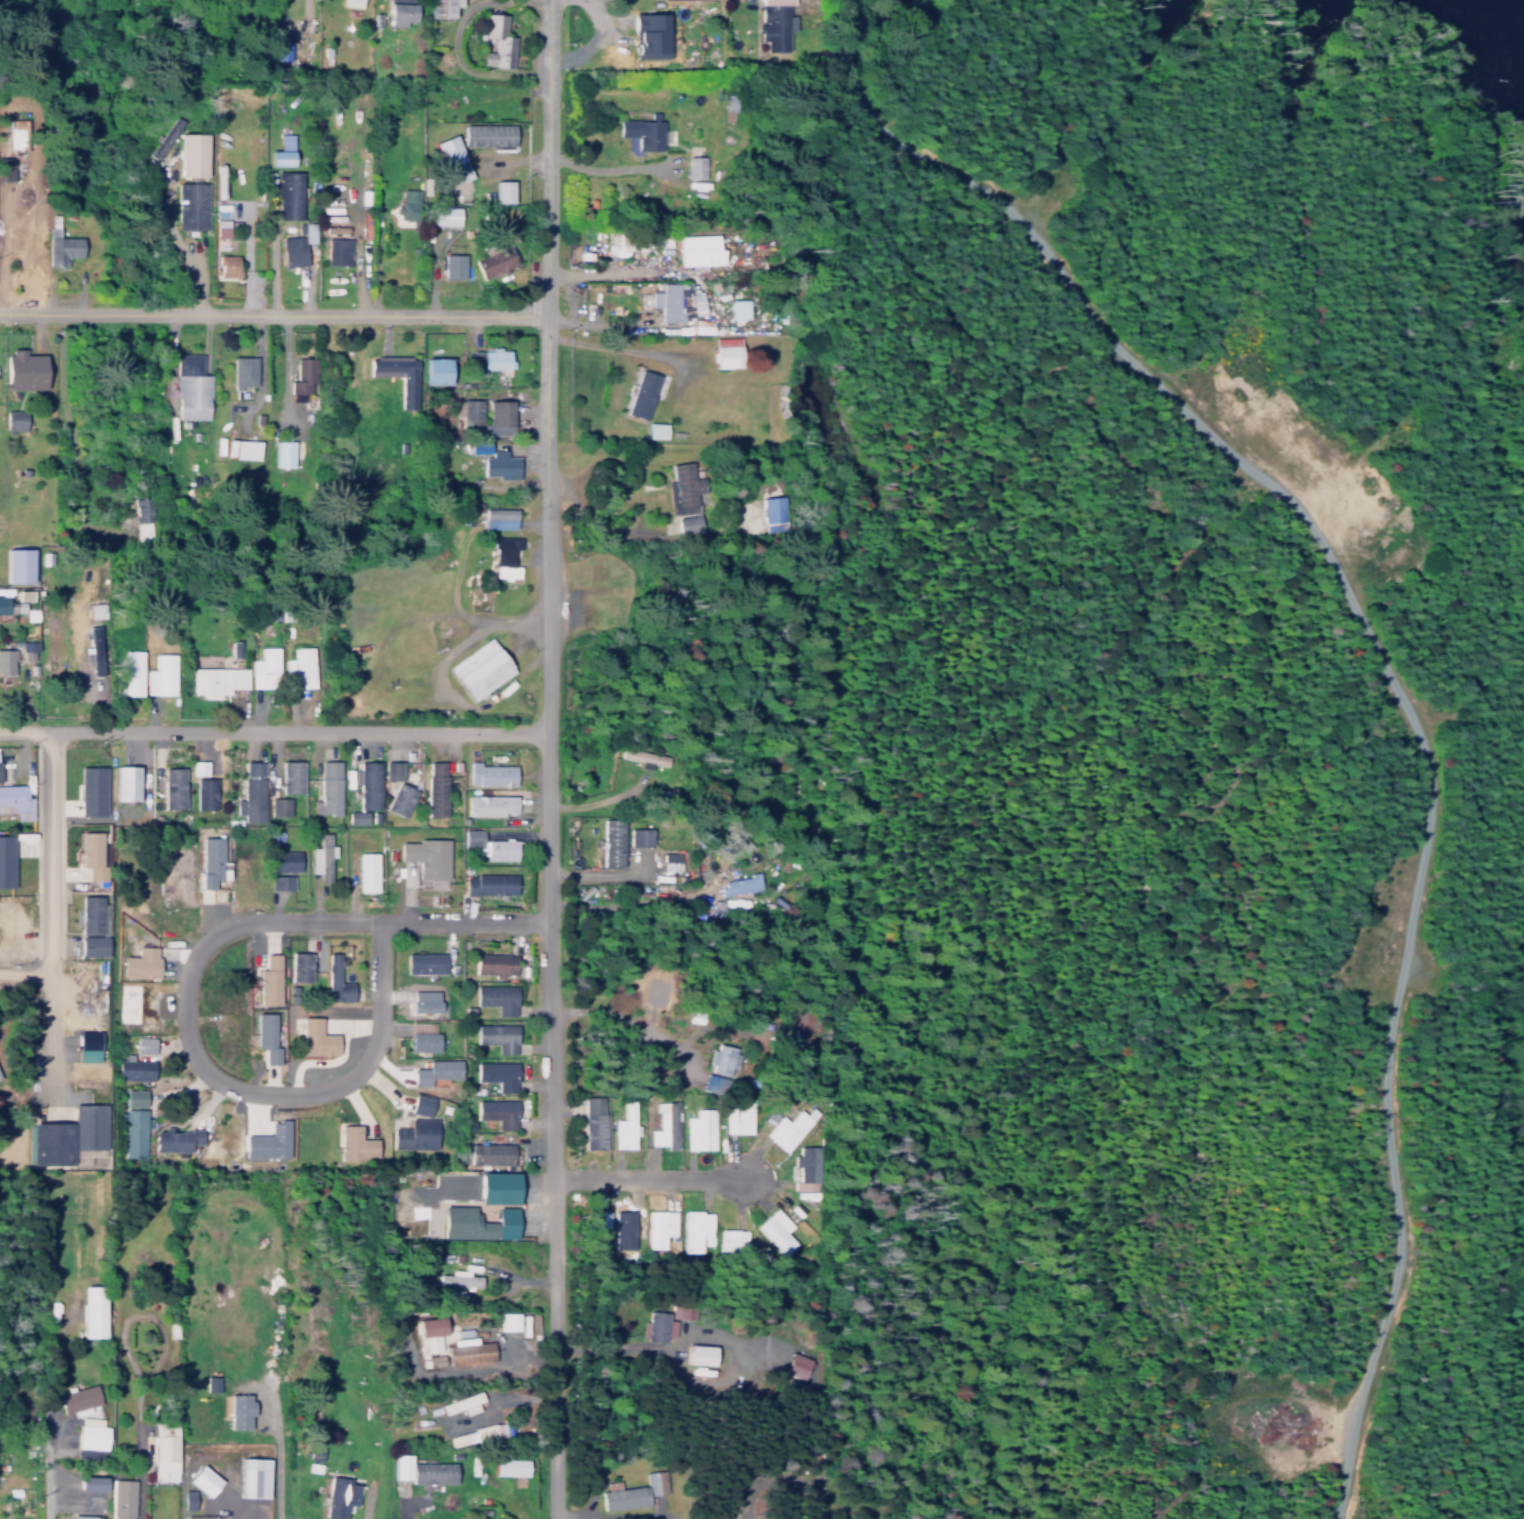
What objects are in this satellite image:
building: (353, 1)
building: (441, 6)
building: (399, 10)
building: (775, 21)
building: (650, 34)
building: (497, 37)
building: (730, 100)
building: (642, 129)
building: (490, 134)
building: (283, 151)
building: (193, 154)
building: (454, 155)
road: (547, 156)
building: (694, 165)
road: (605, 167)
building: (504, 191)
building: (290, 194)
building: (408, 204)
building: (190, 206)
building: (447, 215)
building: (221, 228)
road: (175, 232)
building: (62, 242)
building: (297, 245)
building: (697, 246)
building: (337, 251)
building: (497, 262)
building: (227, 265)
building: (456, 267)
building: (665, 298)
building: (696, 303)
building: (737, 306)
road: (273, 310)
building: (725, 353)
building: (489, 357)
building: (24, 366)
building: (437, 366)
building: (243, 367)
building: (303, 371)
building: (398, 371)
building: (192, 383)
building: (639, 391)
building: (471, 412)
building: (498, 414)
building: (15, 415)
building: (655, 426)
road: (71, 437)
building: (242, 445)
building: (288, 450)
building: (500, 465)
building: (682, 485)
building: (771, 496)
building: (143, 515)
building: (500, 518)
road: (539, 521)
building: (687, 522)
building: (506, 557)
building: (19, 561)
building: (3, 601)
building: (98, 610)
building: (28, 641)
building: (94, 652)
building: (7, 656)
road: (1382, 661)
building: (264, 664)
building: (300, 665)
building: (132, 668)
building: (482, 668)
building: (161, 672)
building: (217, 675)
road: (266, 728)
building: (198, 768)
building: (0, 769)
building: (392, 770)
building: (491, 775)
building: (292, 777)
building: (126, 783)
building: (365, 784)
building: (173, 788)
building: (329, 789)
building: (436, 789)
building: (91, 791)
building: (203, 793)
building: (251, 794)
building: (11, 798)
building: (400, 799)
building: (493, 805)
building: (278, 807)
building: (356, 817)
building: (639, 837)
building: (614, 843)
building: (489, 845)
building: (92, 855)
building: (320, 855)
building: (427, 859)
building: (6, 861)
building: (670, 861)
building: (287, 862)
building: (368, 872)
building: (281, 883)
building: (490, 884)
building: (738, 885)
road: (37, 900)
building: (91, 915)
building: (93, 946)
building: (423, 963)
building: (494, 964)
building: (298, 966)
building: (142, 968)
building: (270, 981)
building: (336, 981)
road: (170, 991)
building: (497, 998)
building: (424, 1006)
building: (497, 1037)
building: (267, 1038)
building: (318, 1039)
building: (424, 1041)
building: (89, 1046)
building: (144, 1047)
building: (719, 1059)
building: (135, 1069)
building: (435, 1072)
building: (497, 1075)
building: (420, 1105)
building: (497, 1113)
building: (736, 1116)
building: (592, 1122)
building: (134, 1123)
road: (537, 1124)
building: (663, 1125)
building: (622, 1126)
building: (782, 1128)
building: (697, 1129)
building: (72, 1135)
building: (416, 1135)
building: (270, 1142)
building: (357, 1144)
building: (489, 1154)
building: (802, 1169)
road: (637, 1174)
building: (489, 1186)
building: (470, 1222)
building: (623, 1225)
building: (657, 1227)
building: (694, 1230)
building: (774, 1230)
building: (594, 1231)
building: (730, 1240)
building: (455, 1278)
building: (96, 1311)
building: (505, 1321)
building: (426, 1325)
building: (653, 1326)
building: (428, 1343)
building: (464, 1351)
building: (697, 1354)
building: (433, 1359)
building: (794, 1364)
building: (211, 1383)
building: (79, 1398)
road: (52, 1408)
building: (240, 1411)
building: (92, 1434)
building: (476, 1434)
building: (166, 1451)
building: (504, 1467)
building: (416, 1470)
building: (257, 1477)
building: (206, 1480)
building: (629, 1491)
building: (113, 1493)
building: (339, 1496)
building: (84, 1516)
building: (200, 1517)

